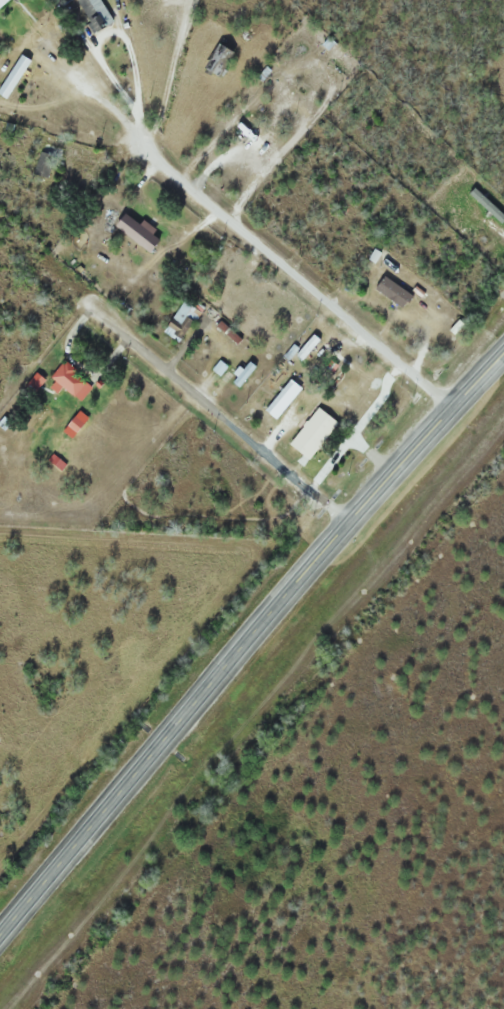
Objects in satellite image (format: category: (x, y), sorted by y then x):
building: (2, 2)
building: (92, 14)
building: (12, 76)
building: (41, 165)
building: (135, 233)
road: (264, 249)
building: (401, 278)
building: (390, 292)
building: (181, 319)
building: (66, 379)
building: (277, 398)
road: (226, 422)
building: (311, 434)
road: (250, 653)
railway: (257, 715)

